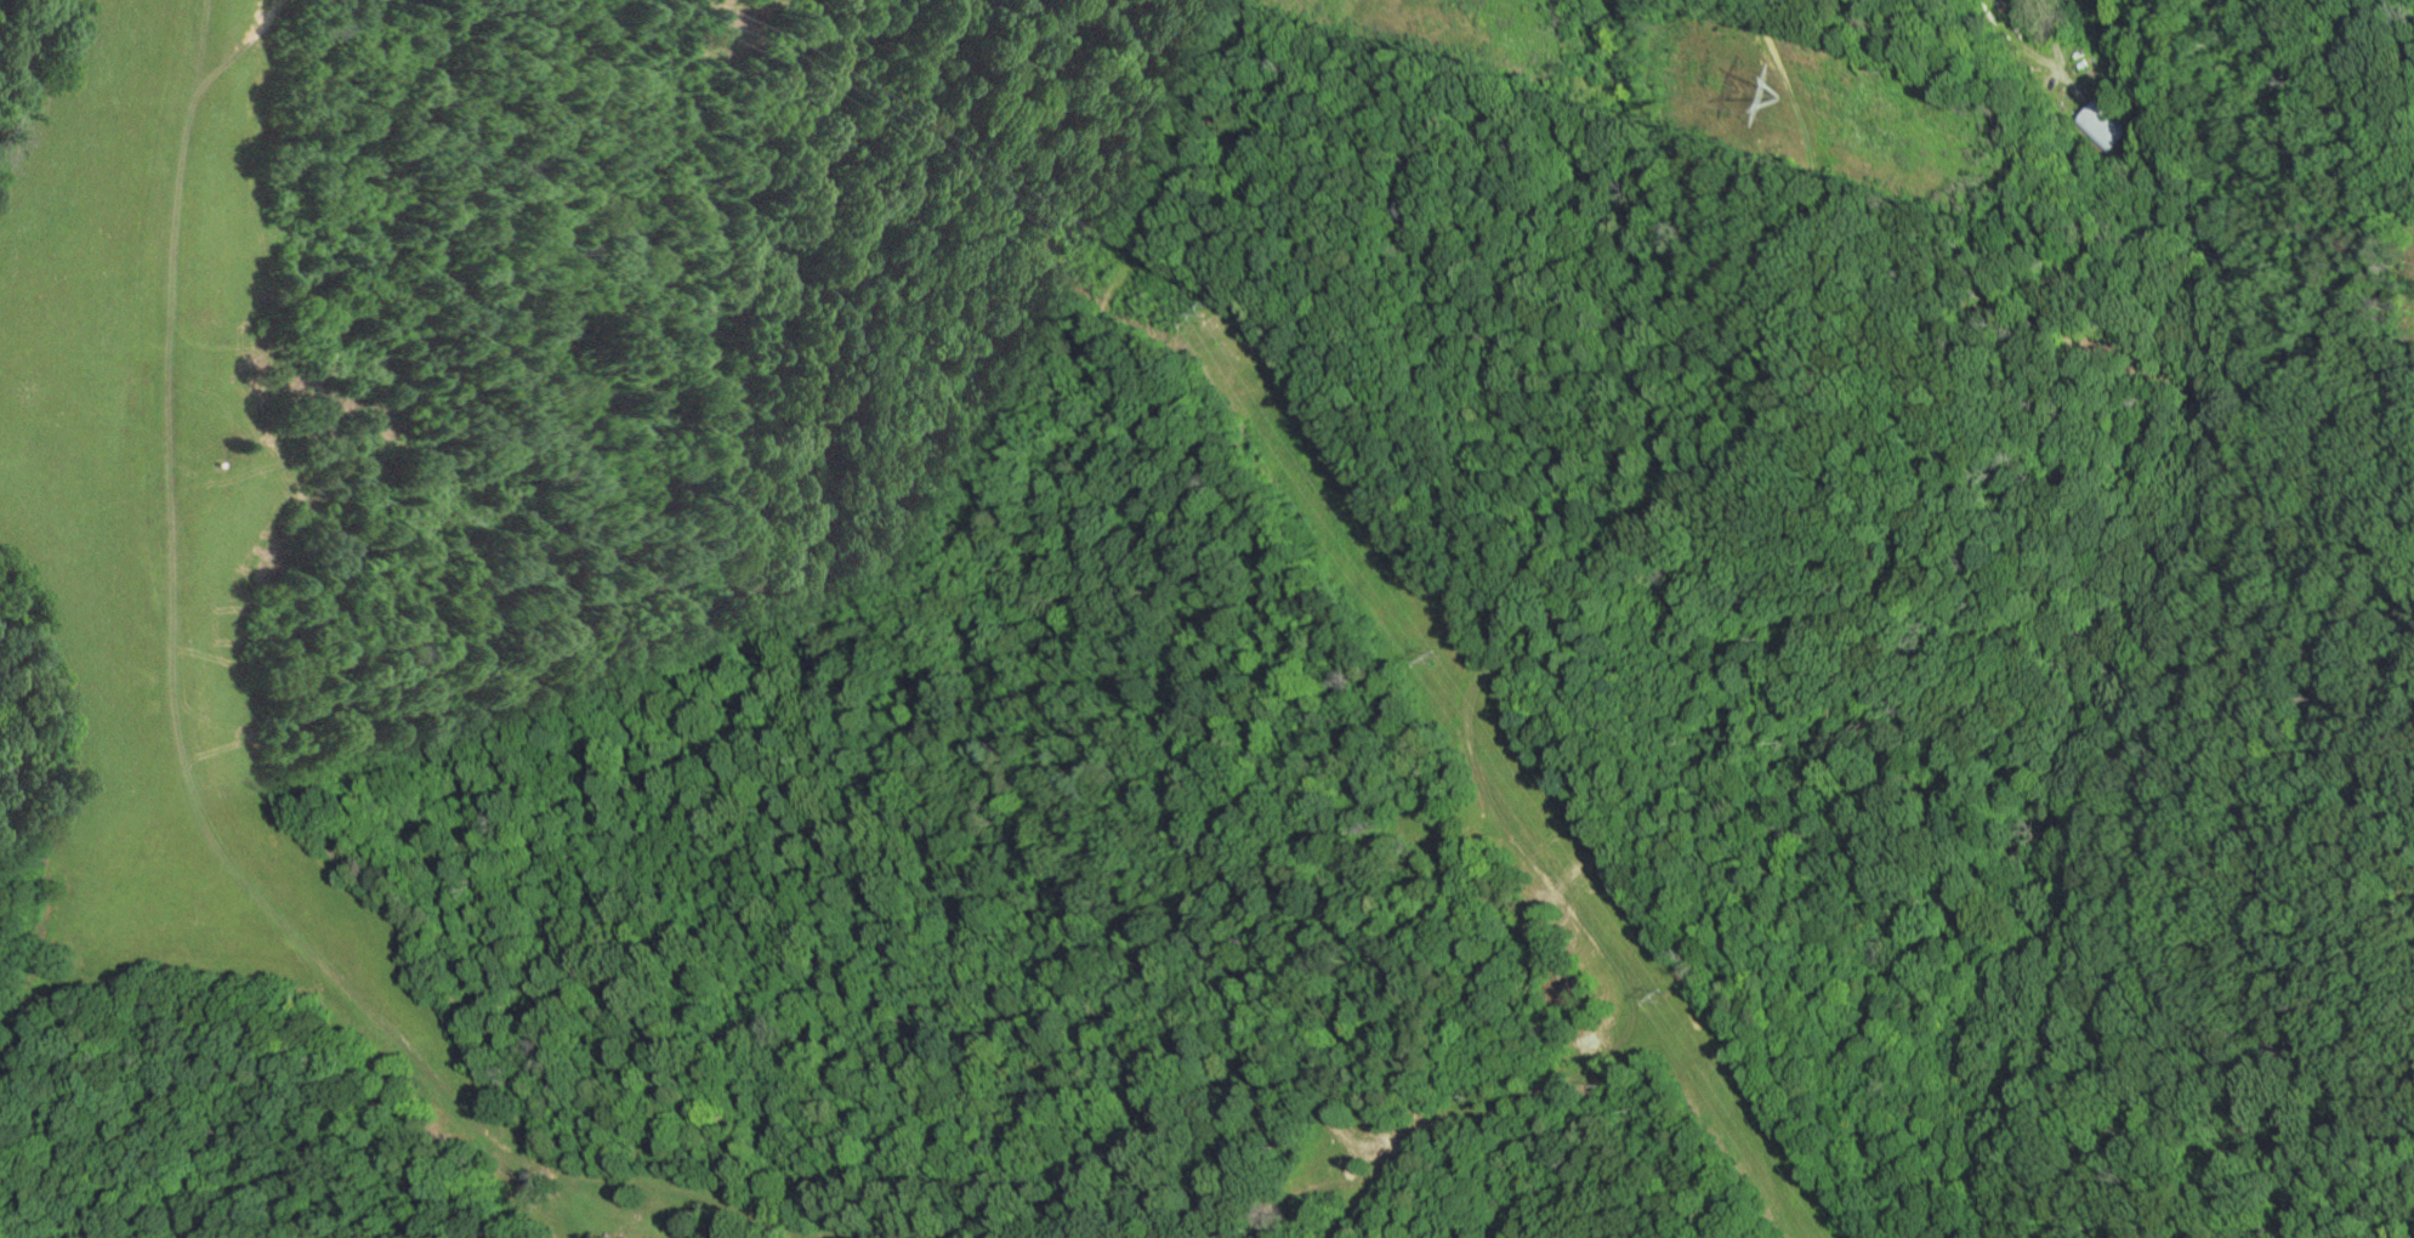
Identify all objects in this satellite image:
power tower: (1776, 92)
building: (2100, 127)

